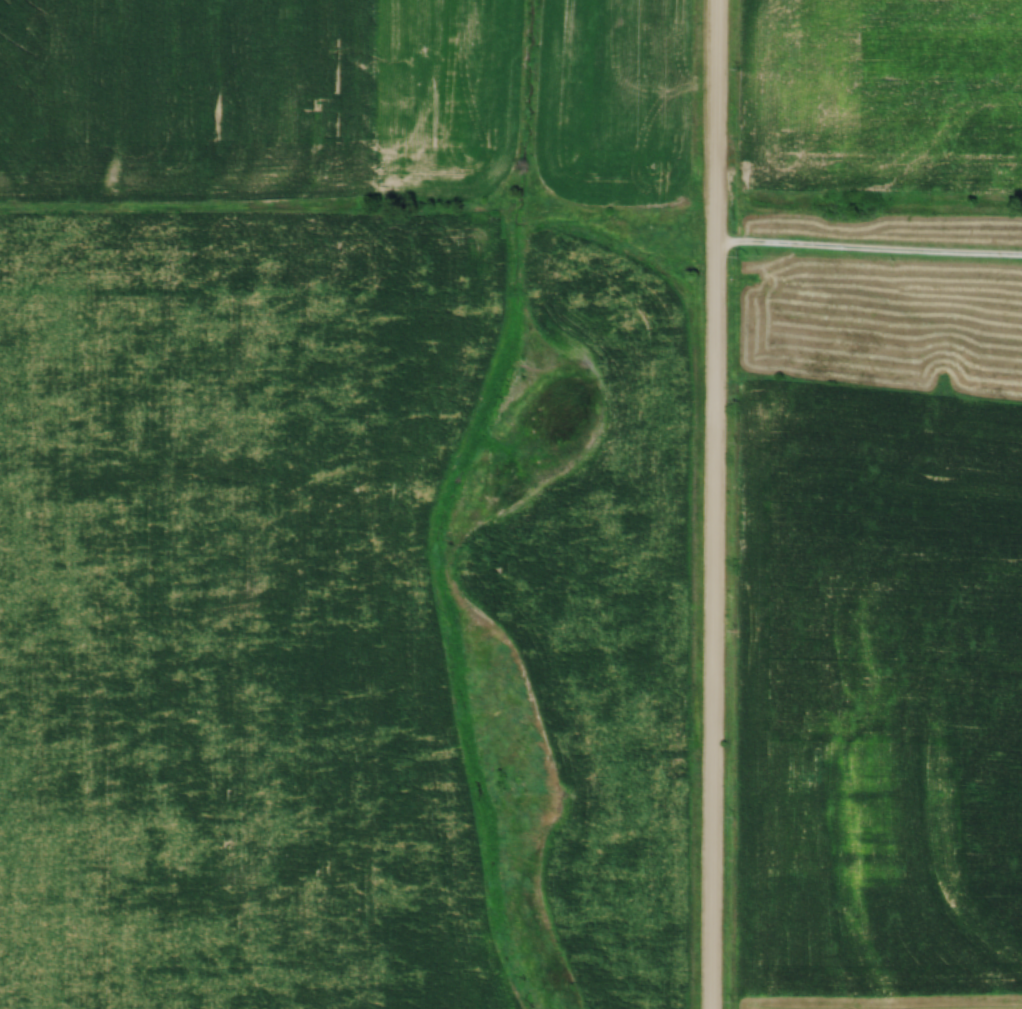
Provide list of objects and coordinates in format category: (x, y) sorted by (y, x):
road: (867, 250)
road: (711, 504)

